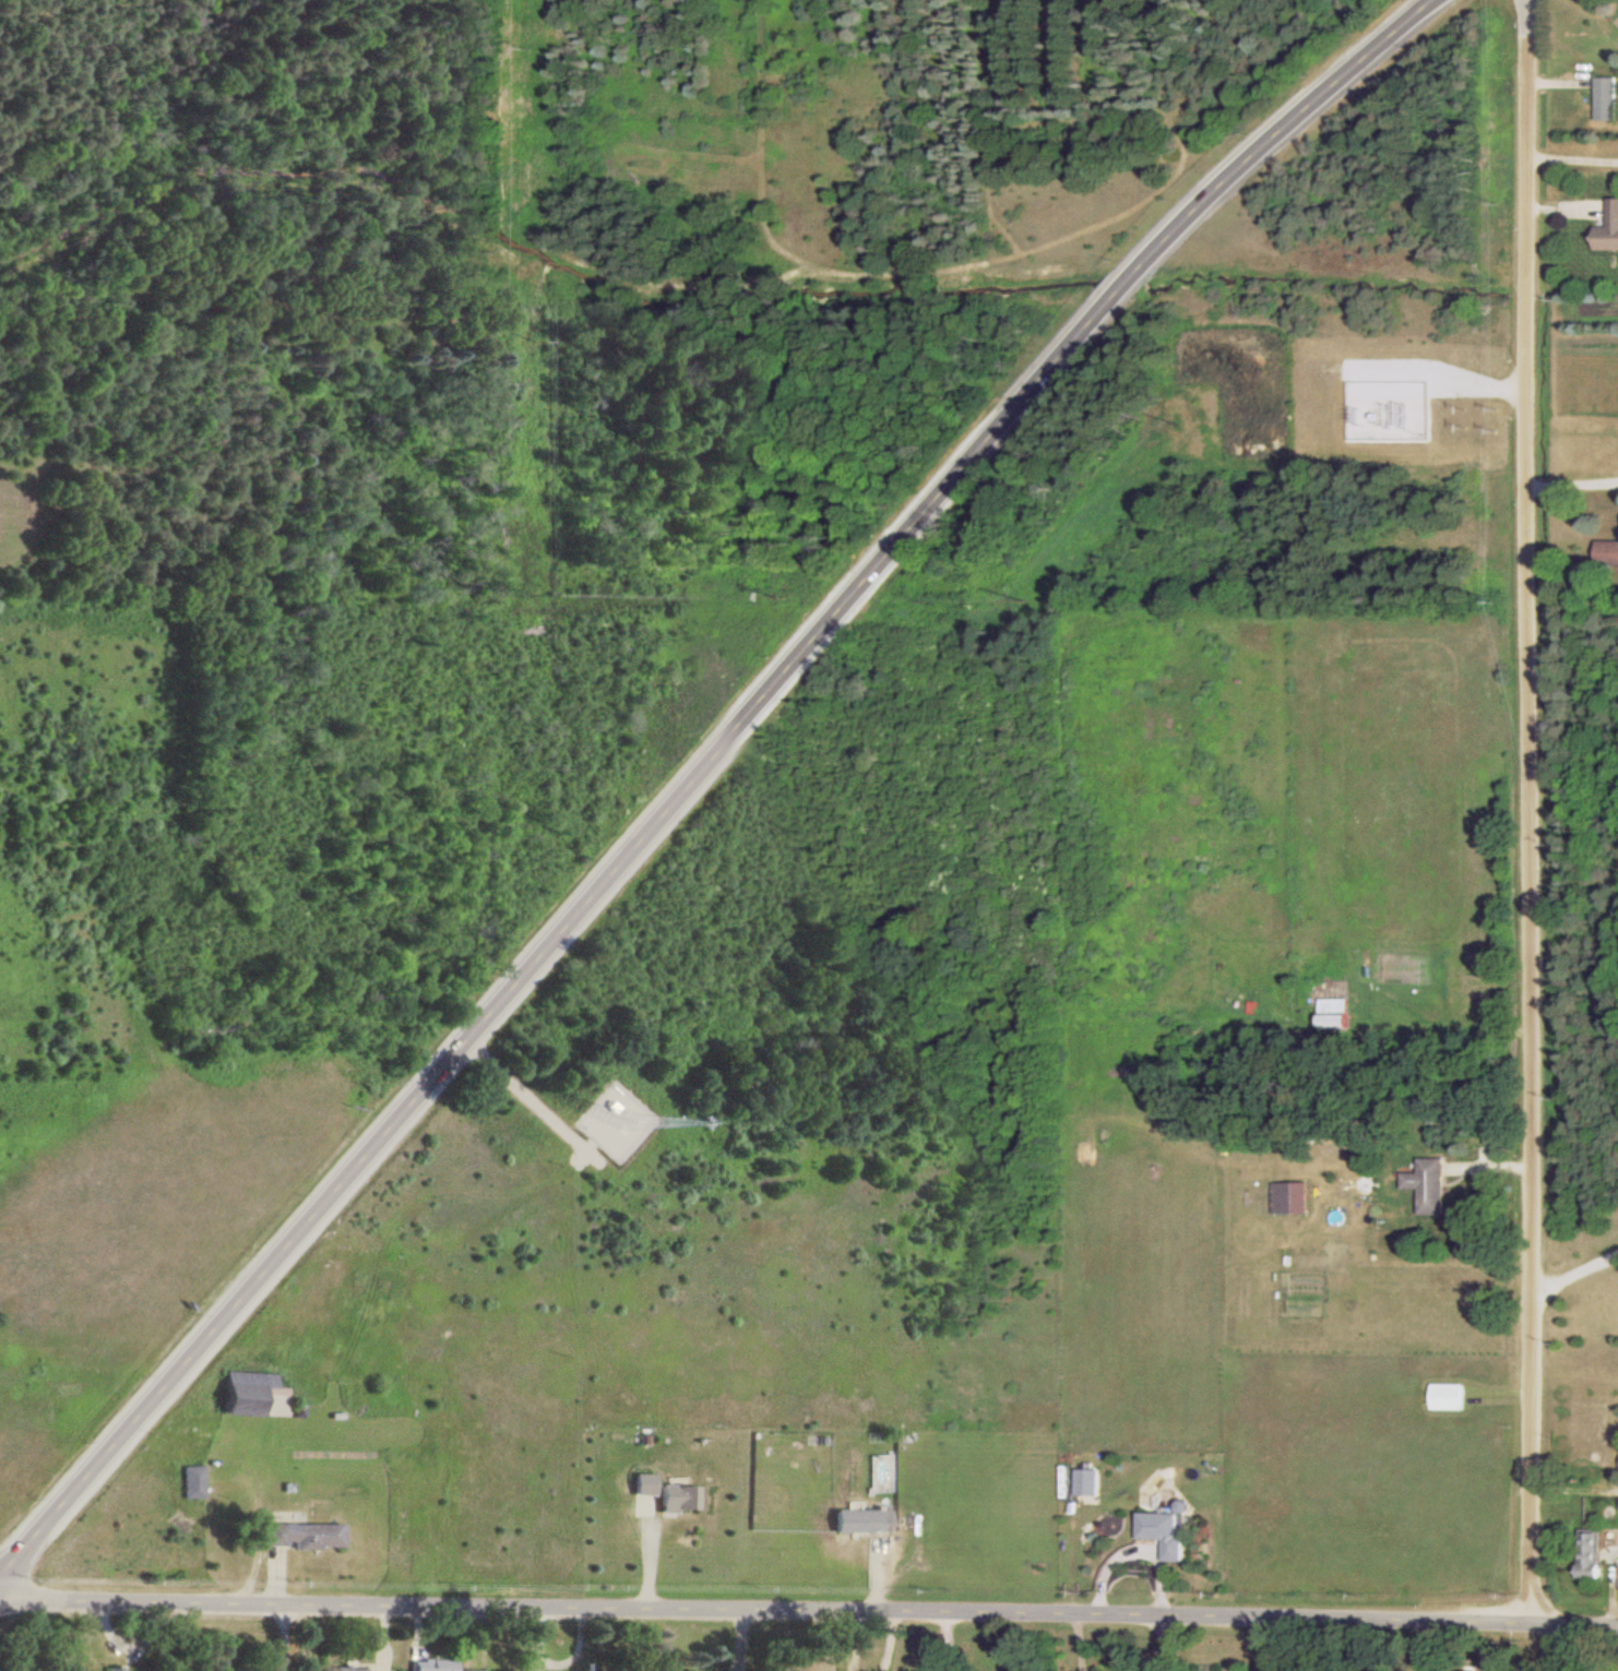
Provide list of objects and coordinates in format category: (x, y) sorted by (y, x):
building: (1605, 97)
building: (1609, 227)
road: (1569, 482)
building: (1607, 550)
road: (700, 767)
road: (1522, 809)
building: (1334, 1013)
building: (1429, 1184)
building: (1295, 1197)
road: (1570, 1274)
building: (253, 1393)
building: (1447, 1395)
building: (192, 1480)
building: (1087, 1484)
building: (676, 1495)
building: (859, 1519)
building: (1166, 1530)
building: (302, 1533)
building: (1590, 1553)
road: (809, 1608)
road: (281, 1635)
road: (855, 1639)
road: (1078, 1640)
road: (1163, 1642)
building: (431, 1664)
building: (115, 1669)
building: (357, 1669)
building: (469, 1669)

